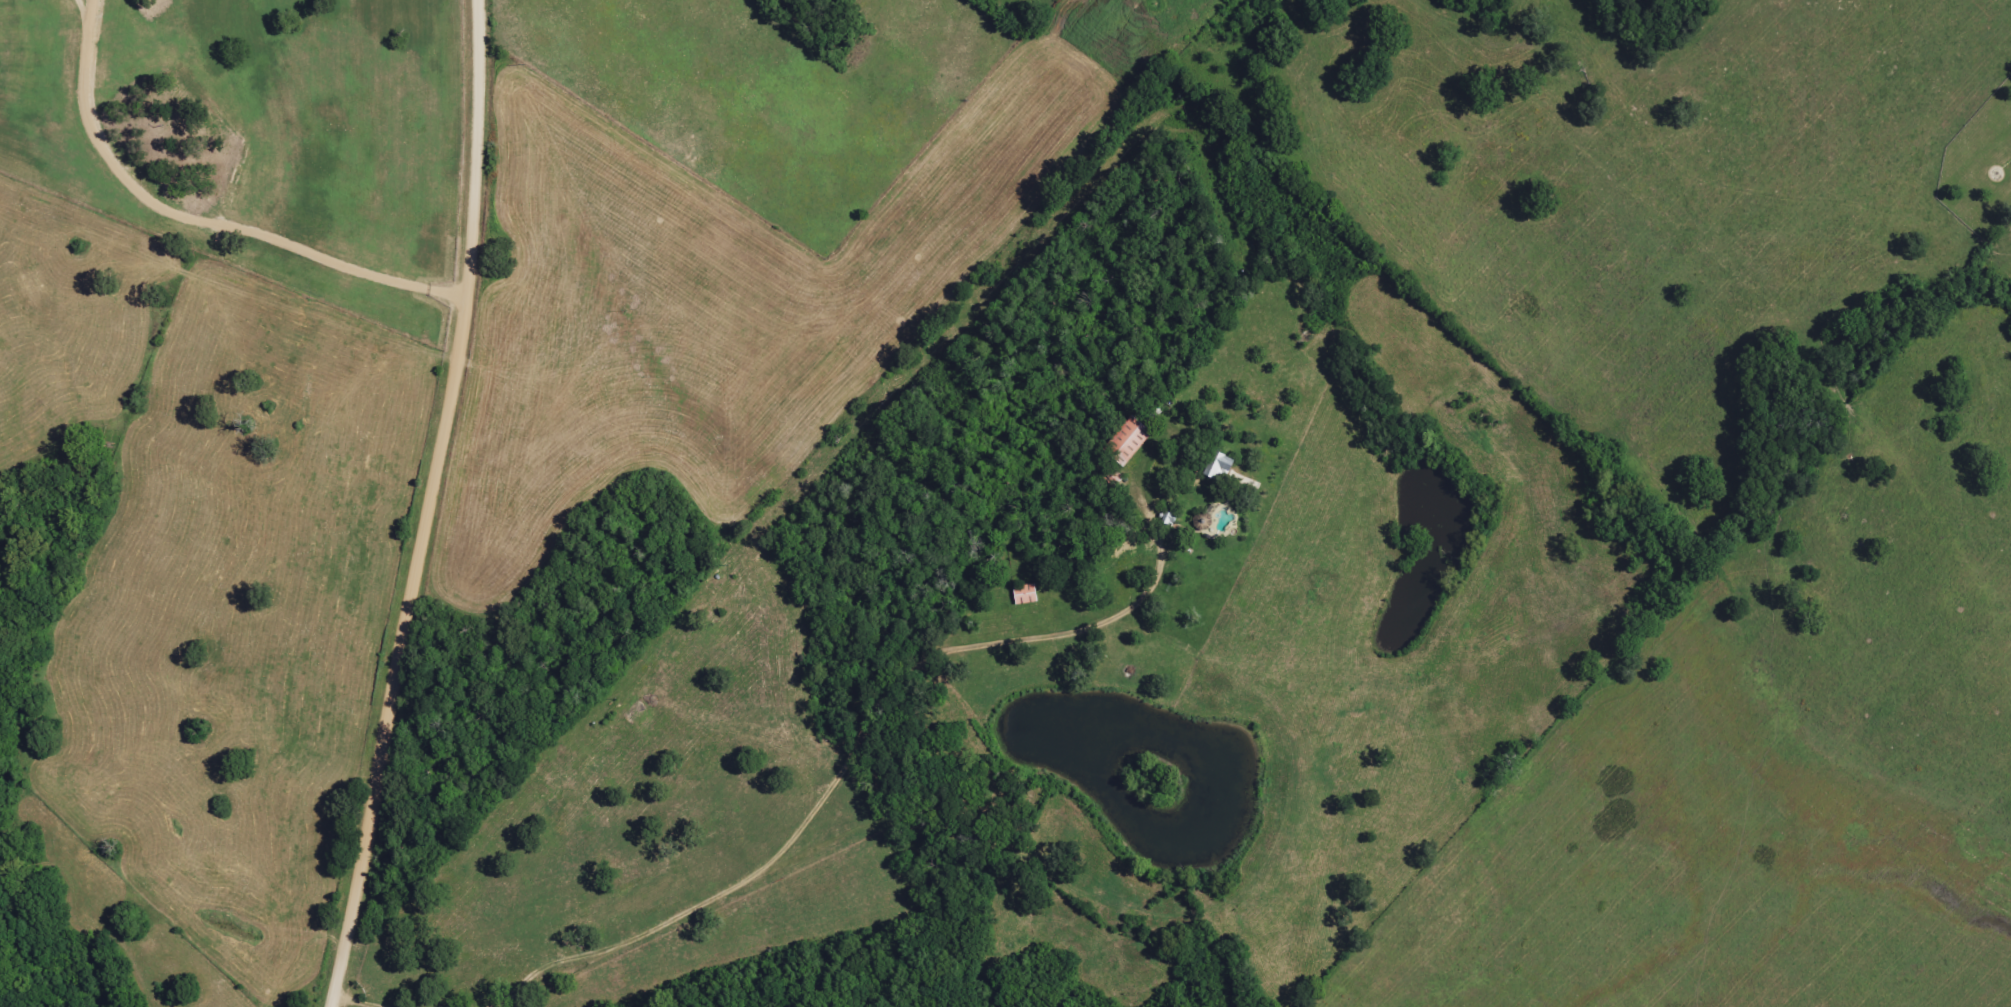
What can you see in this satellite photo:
road: (203, 213)
building: (1123, 441)
road: (431, 506)
building: (1023, 595)
road: (811, 806)

